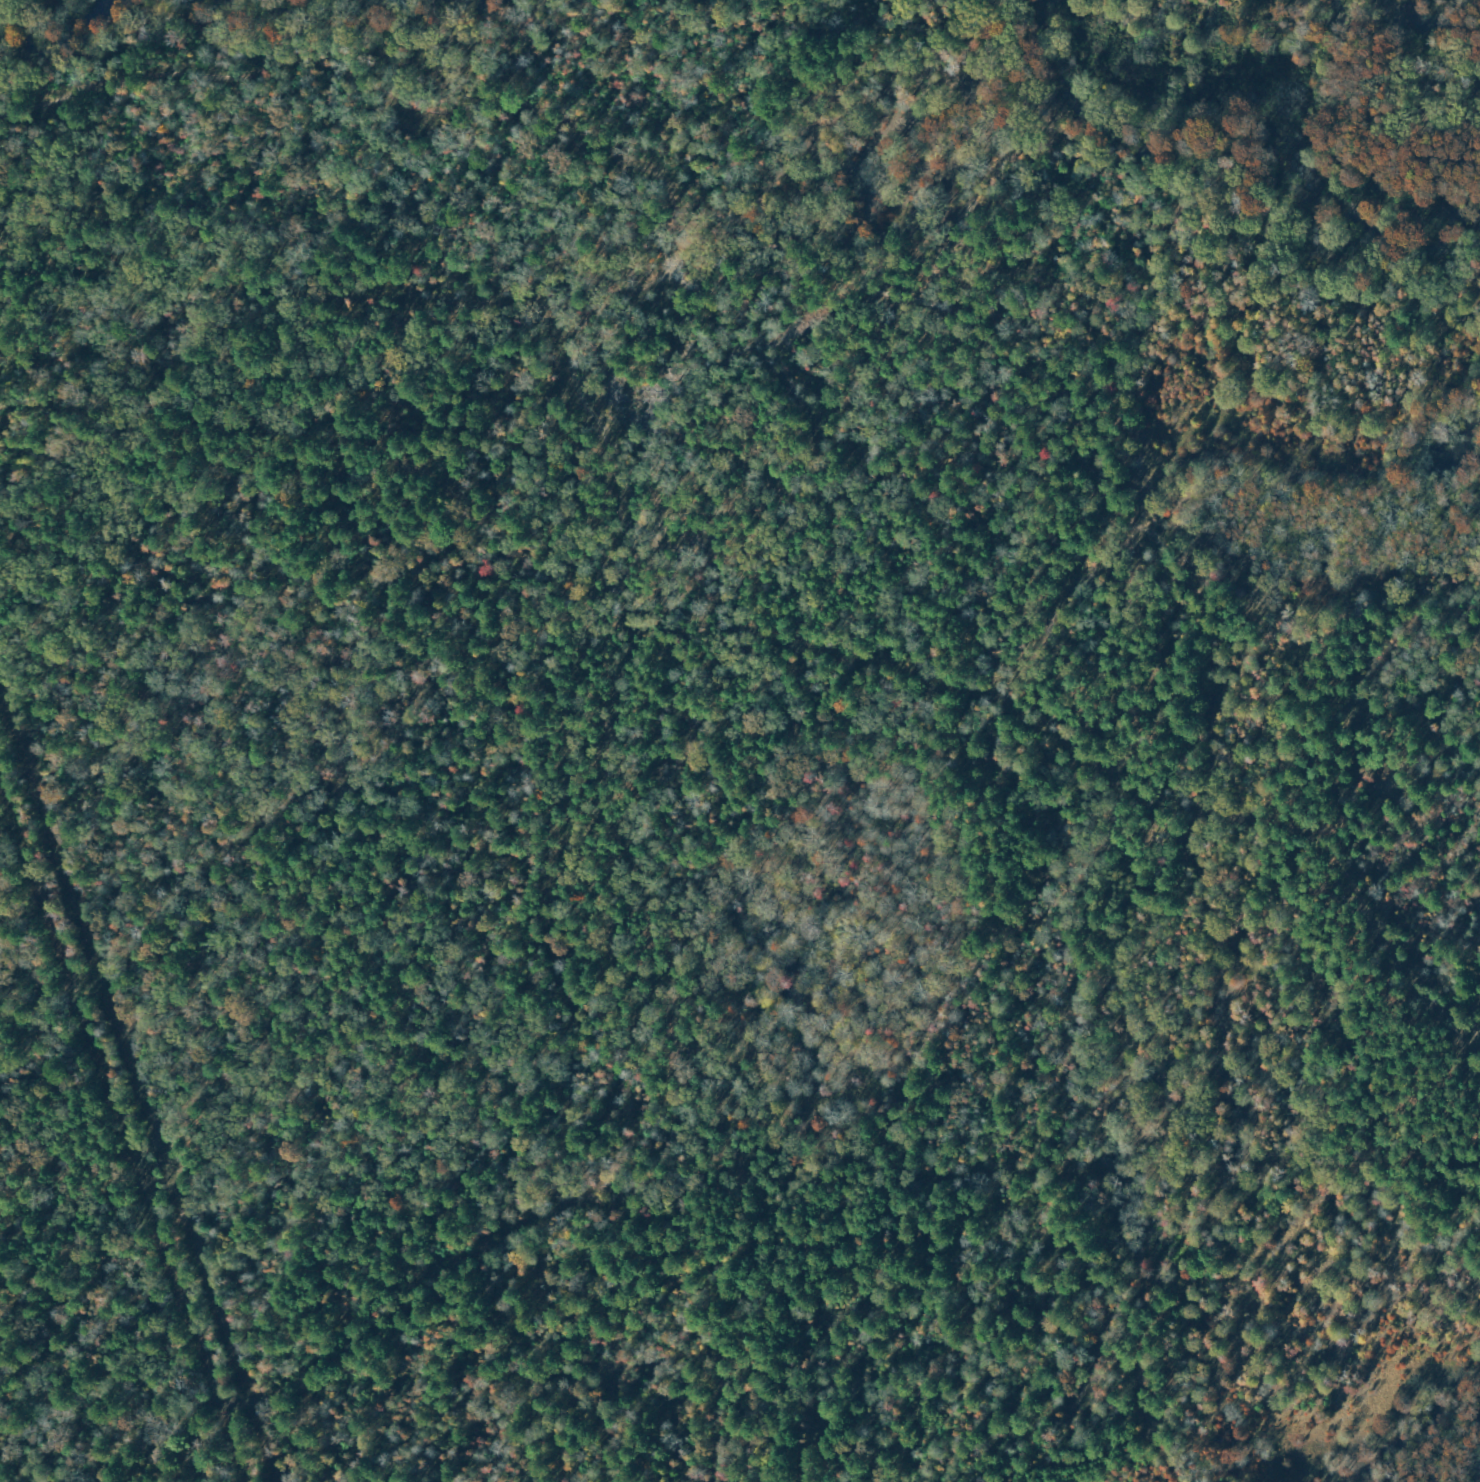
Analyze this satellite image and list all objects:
river: (1228, 66)
road: (1246, 1219)

